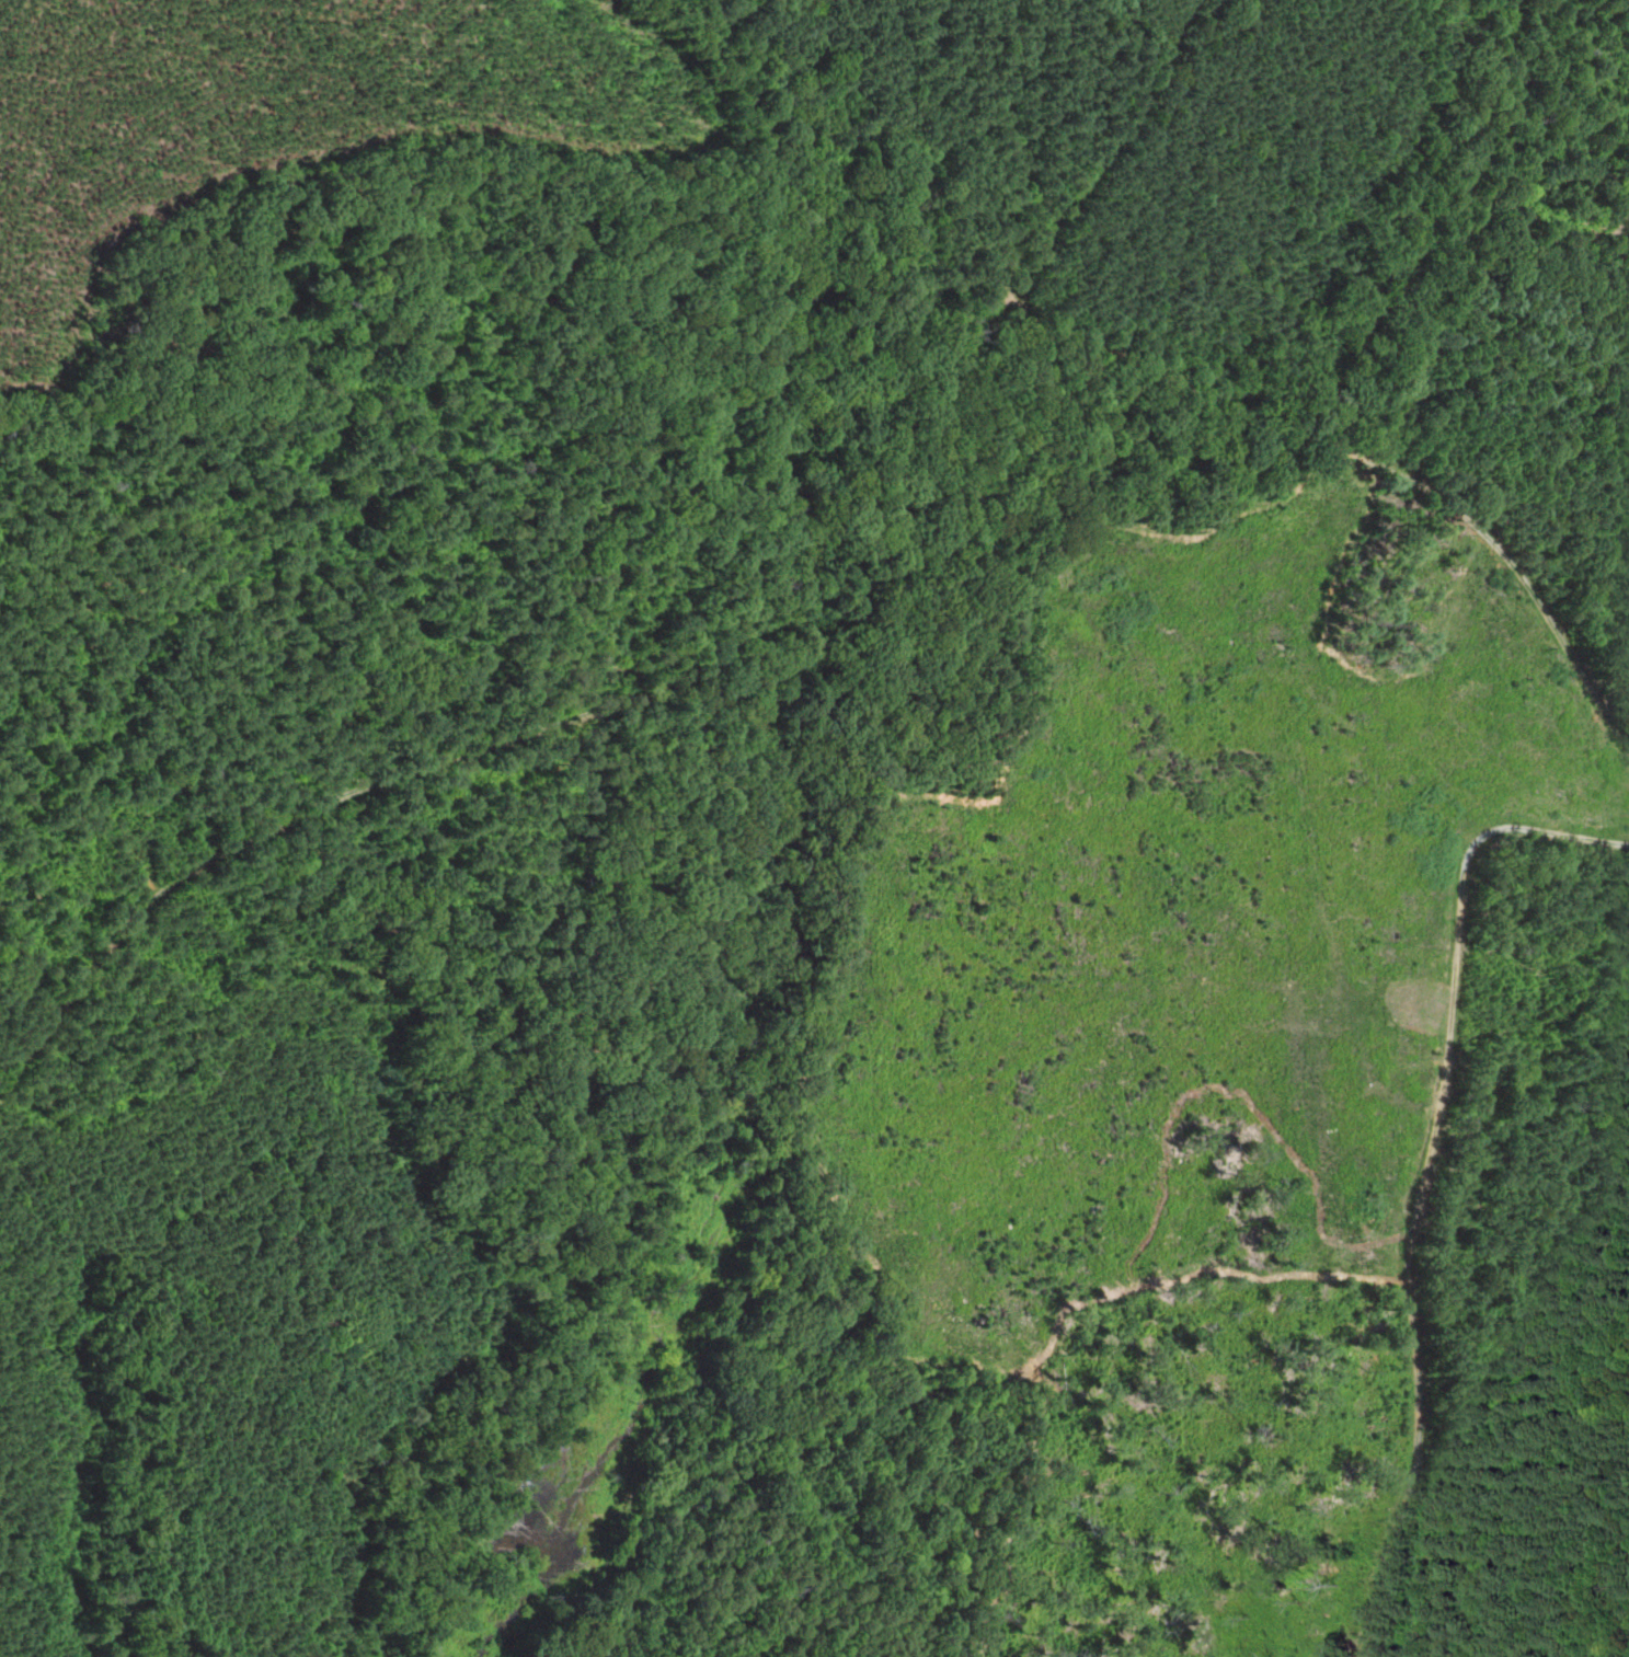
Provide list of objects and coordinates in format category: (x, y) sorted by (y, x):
road: (1367, 458)
road: (685, 647)

